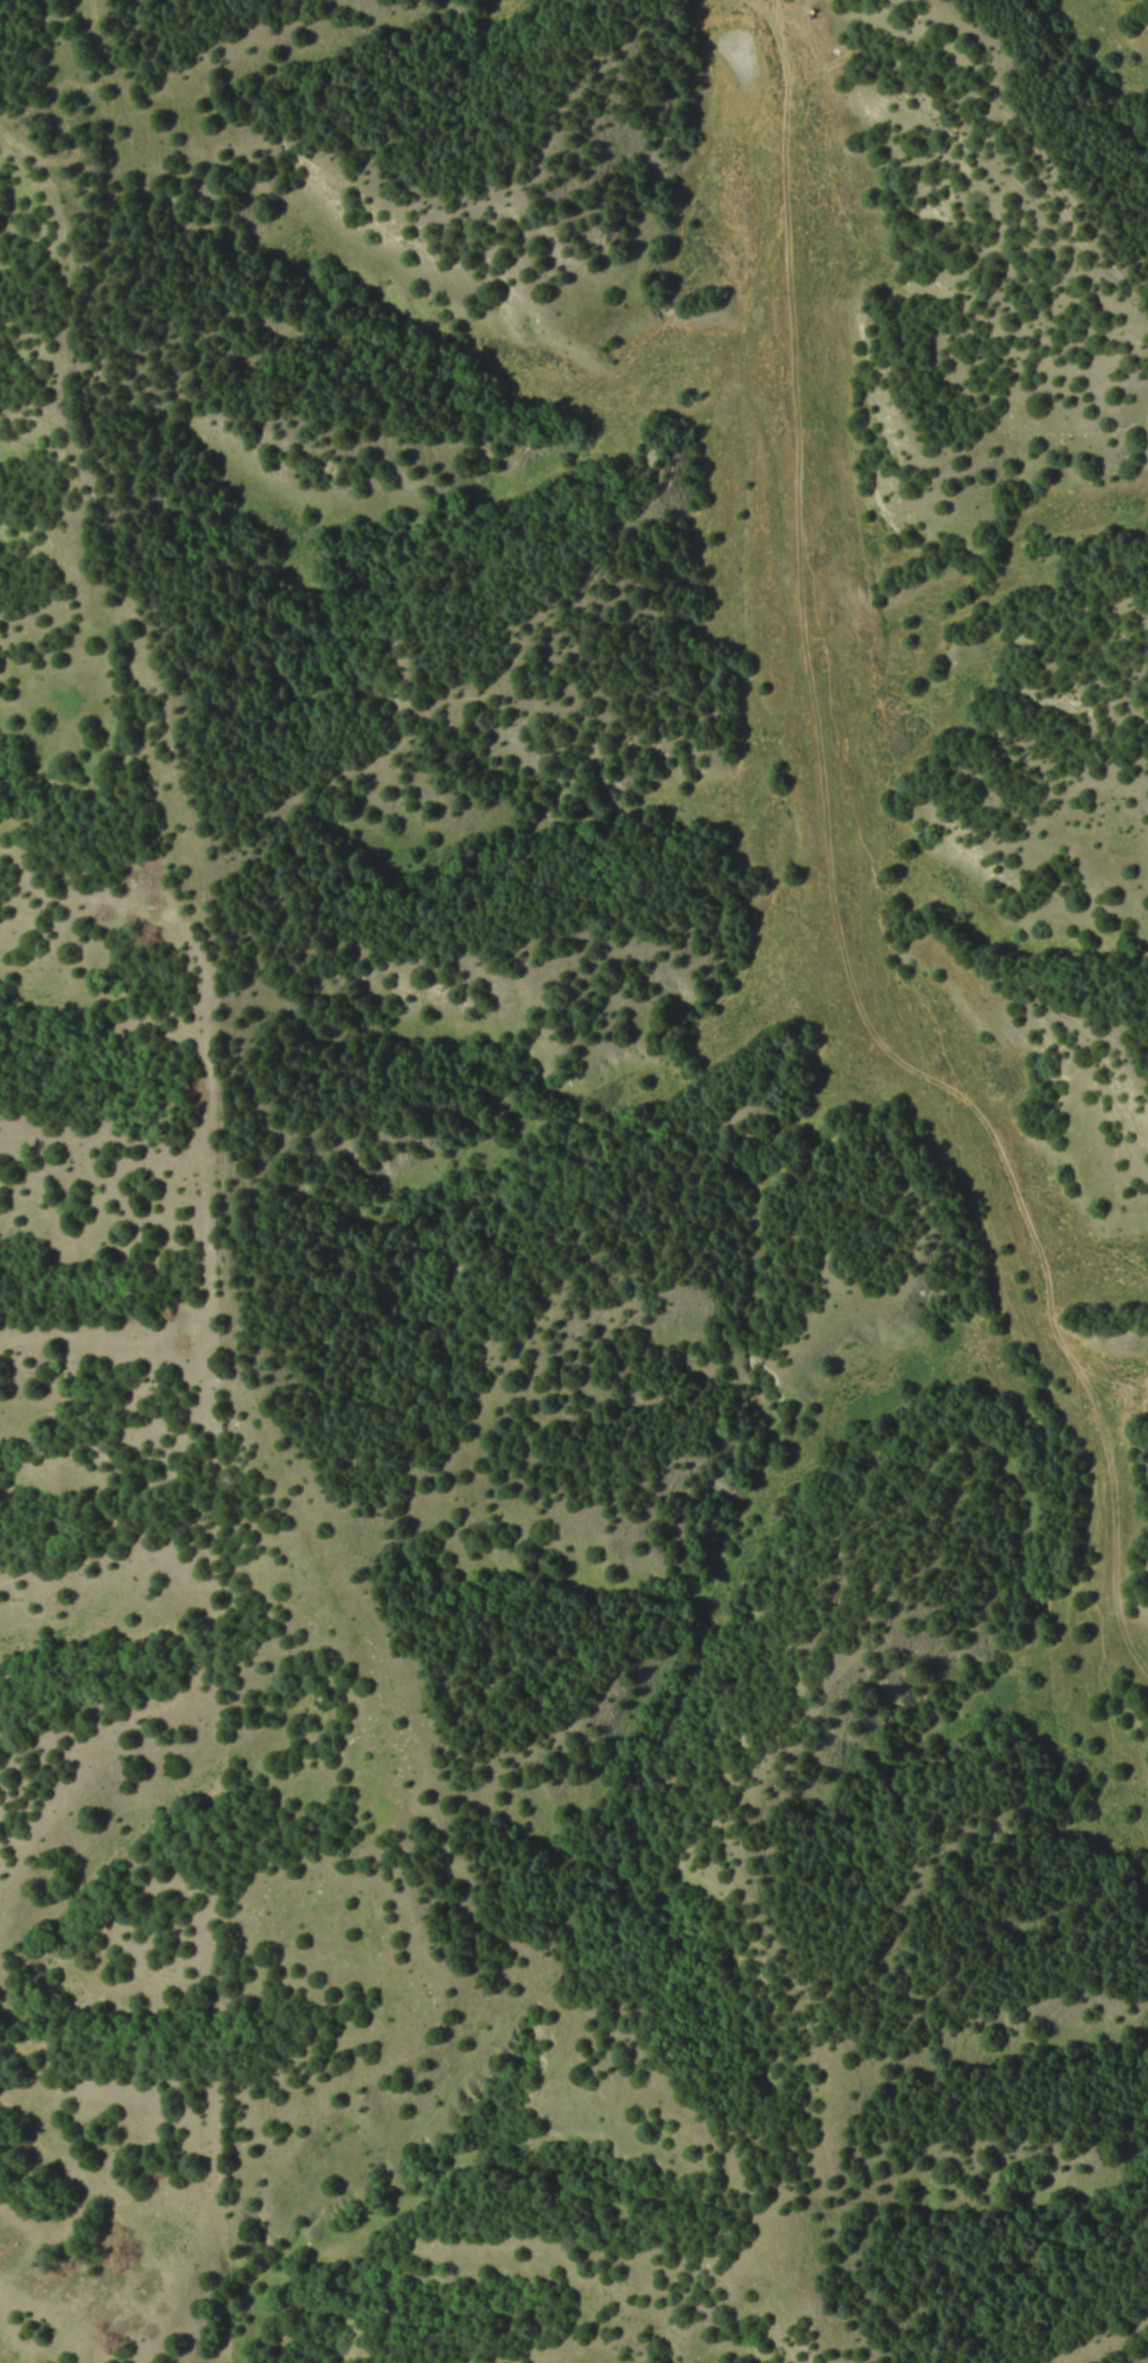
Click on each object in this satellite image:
road: (833, 878)

